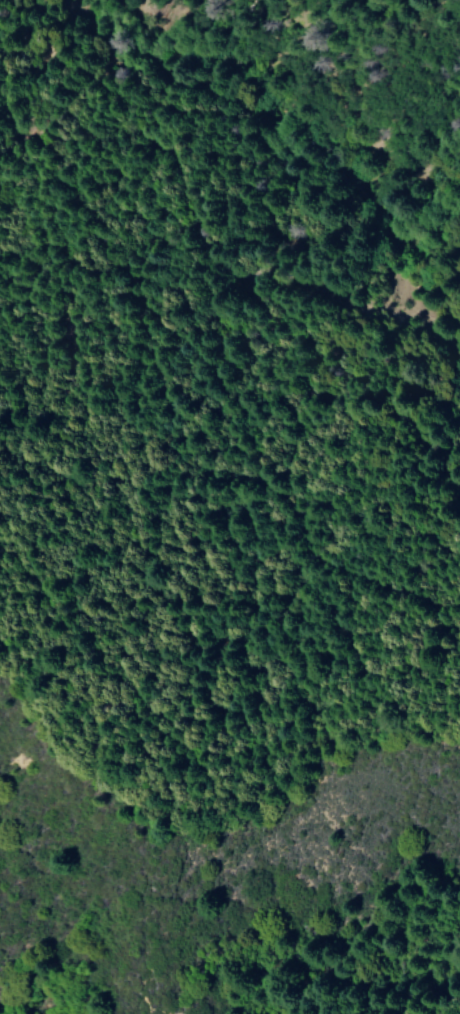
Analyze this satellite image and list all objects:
road: (222, 207)

